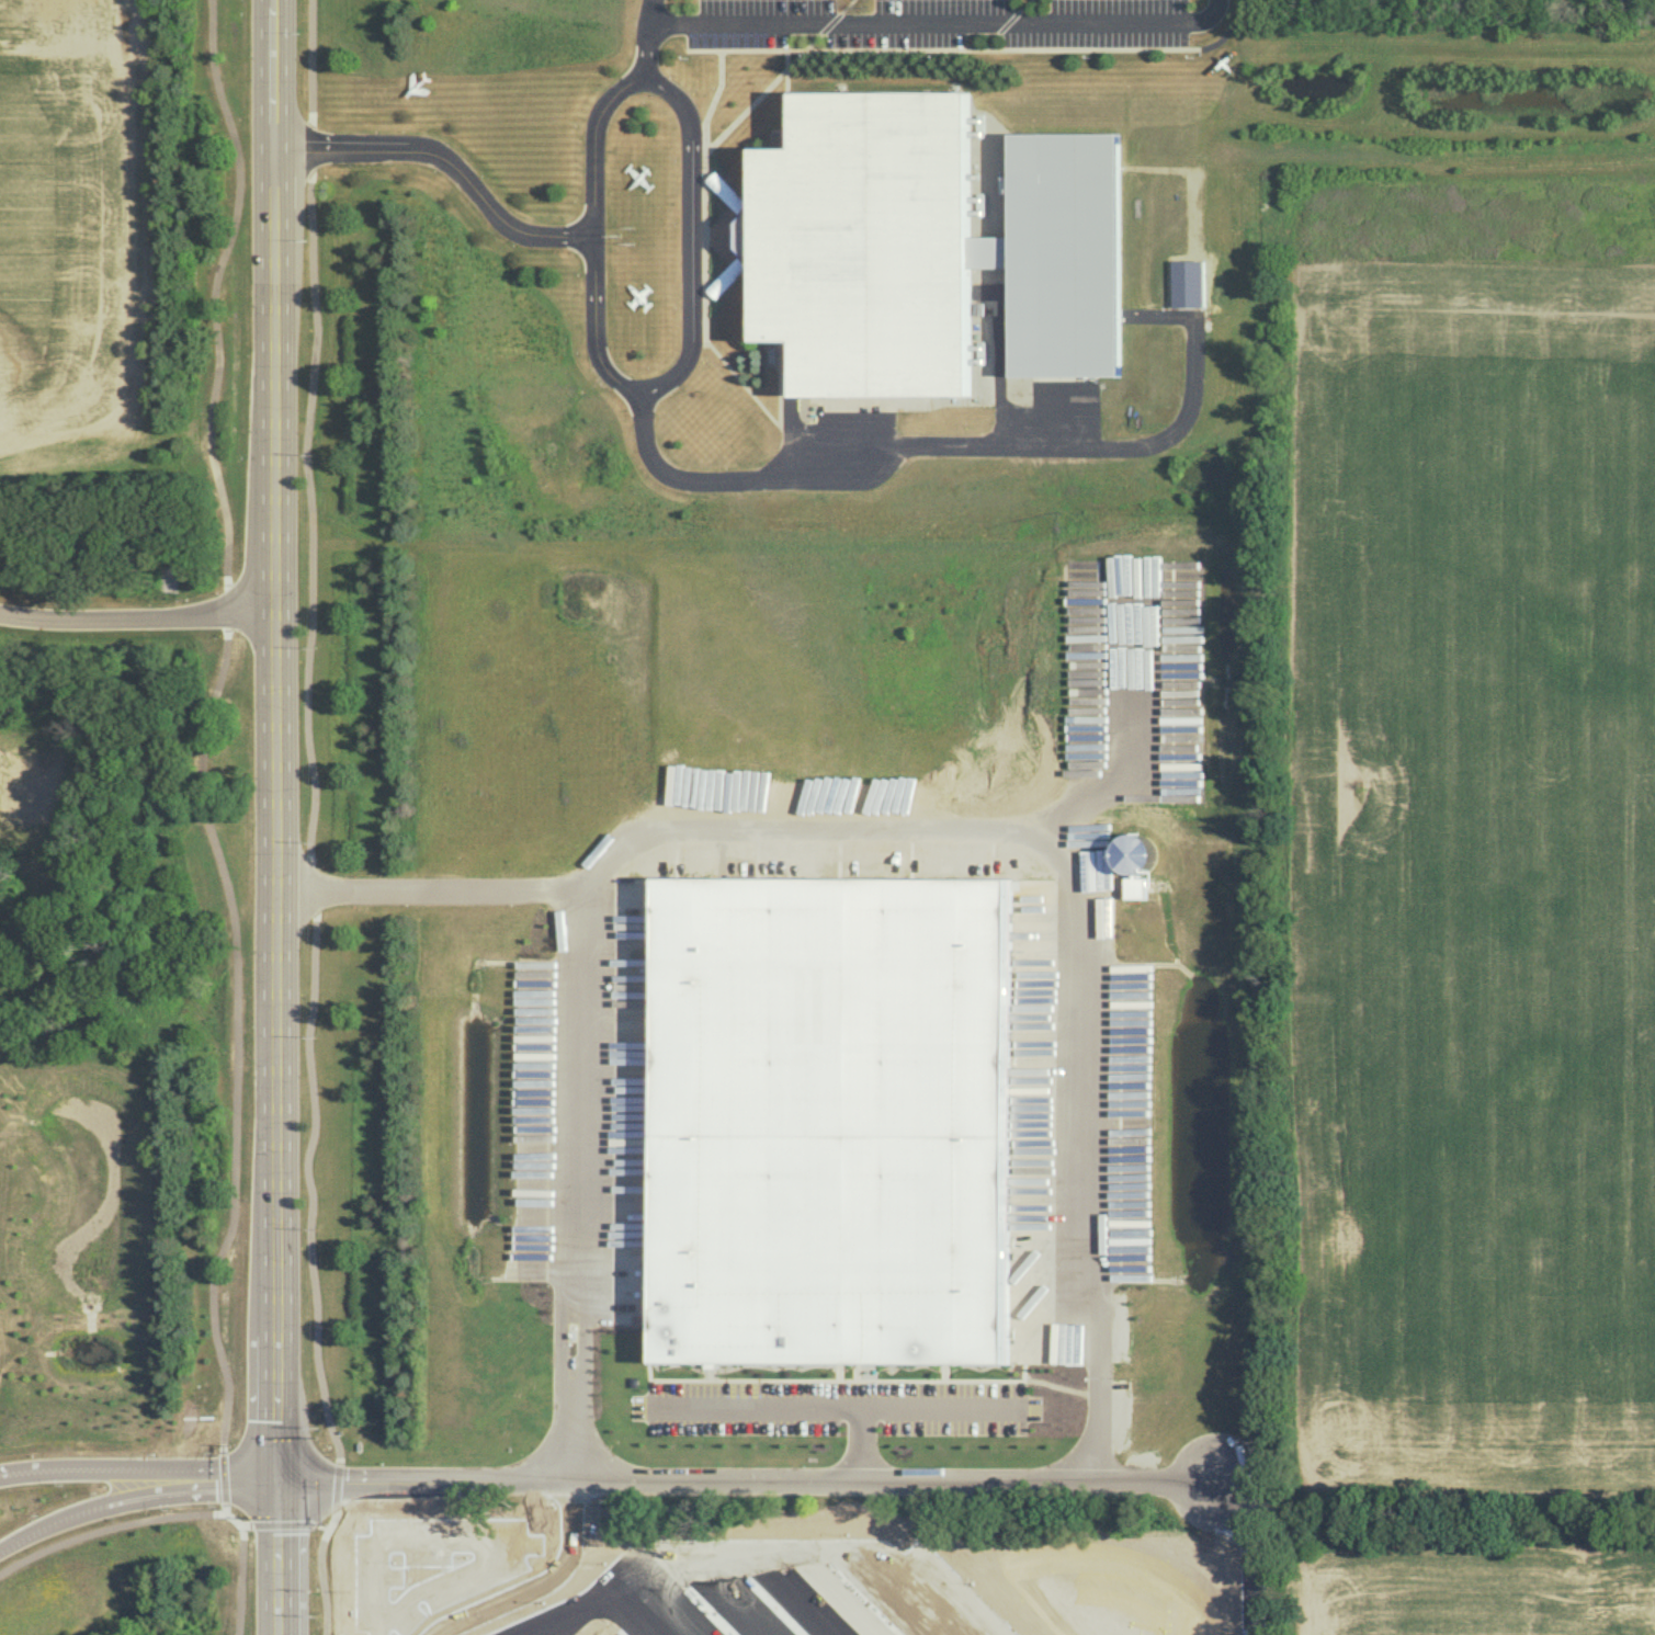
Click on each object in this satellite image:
road: (843, 5)
road: (1022, 5)
road: (1217, 10)
road: (827, 22)
road: (1007, 22)
road: (931, 23)
parking lot: (929, 27)
road: (1226, 30)
road: (989, 41)
road: (941, 48)
road: (760, 93)
road: (784, 99)
road: (705, 173)
crop: (71, 222)
flagpole: (631, 226)
flagpole: (616, 234)
building: (747, 234)
road: (691, 238)
road: (545, 239)
flagpole: (631, 242)
building: (928, 250)
road: (702, 273)
road: (706, 295)
road: (593, 331)
road: (1006, 449)
road: (135, 611)
road: (1135, 727)
road: (209, 733)
road: (270, 817)
road: (309, 821)
building: (1133, 853)
crop: (1476, 881)
building: (1134, 886)
building: (831, 1120)
road: (1108, 1307)
road: (794, 1404)
road: (939, 1405)
road: (136, 1463)
road: (428, 1477)
road: (1171, 1479)
road: (132, 1489)
road: (285, 1525)
road: (109, 1528)
road: (242, 1547)
crop: (852, 1586)

